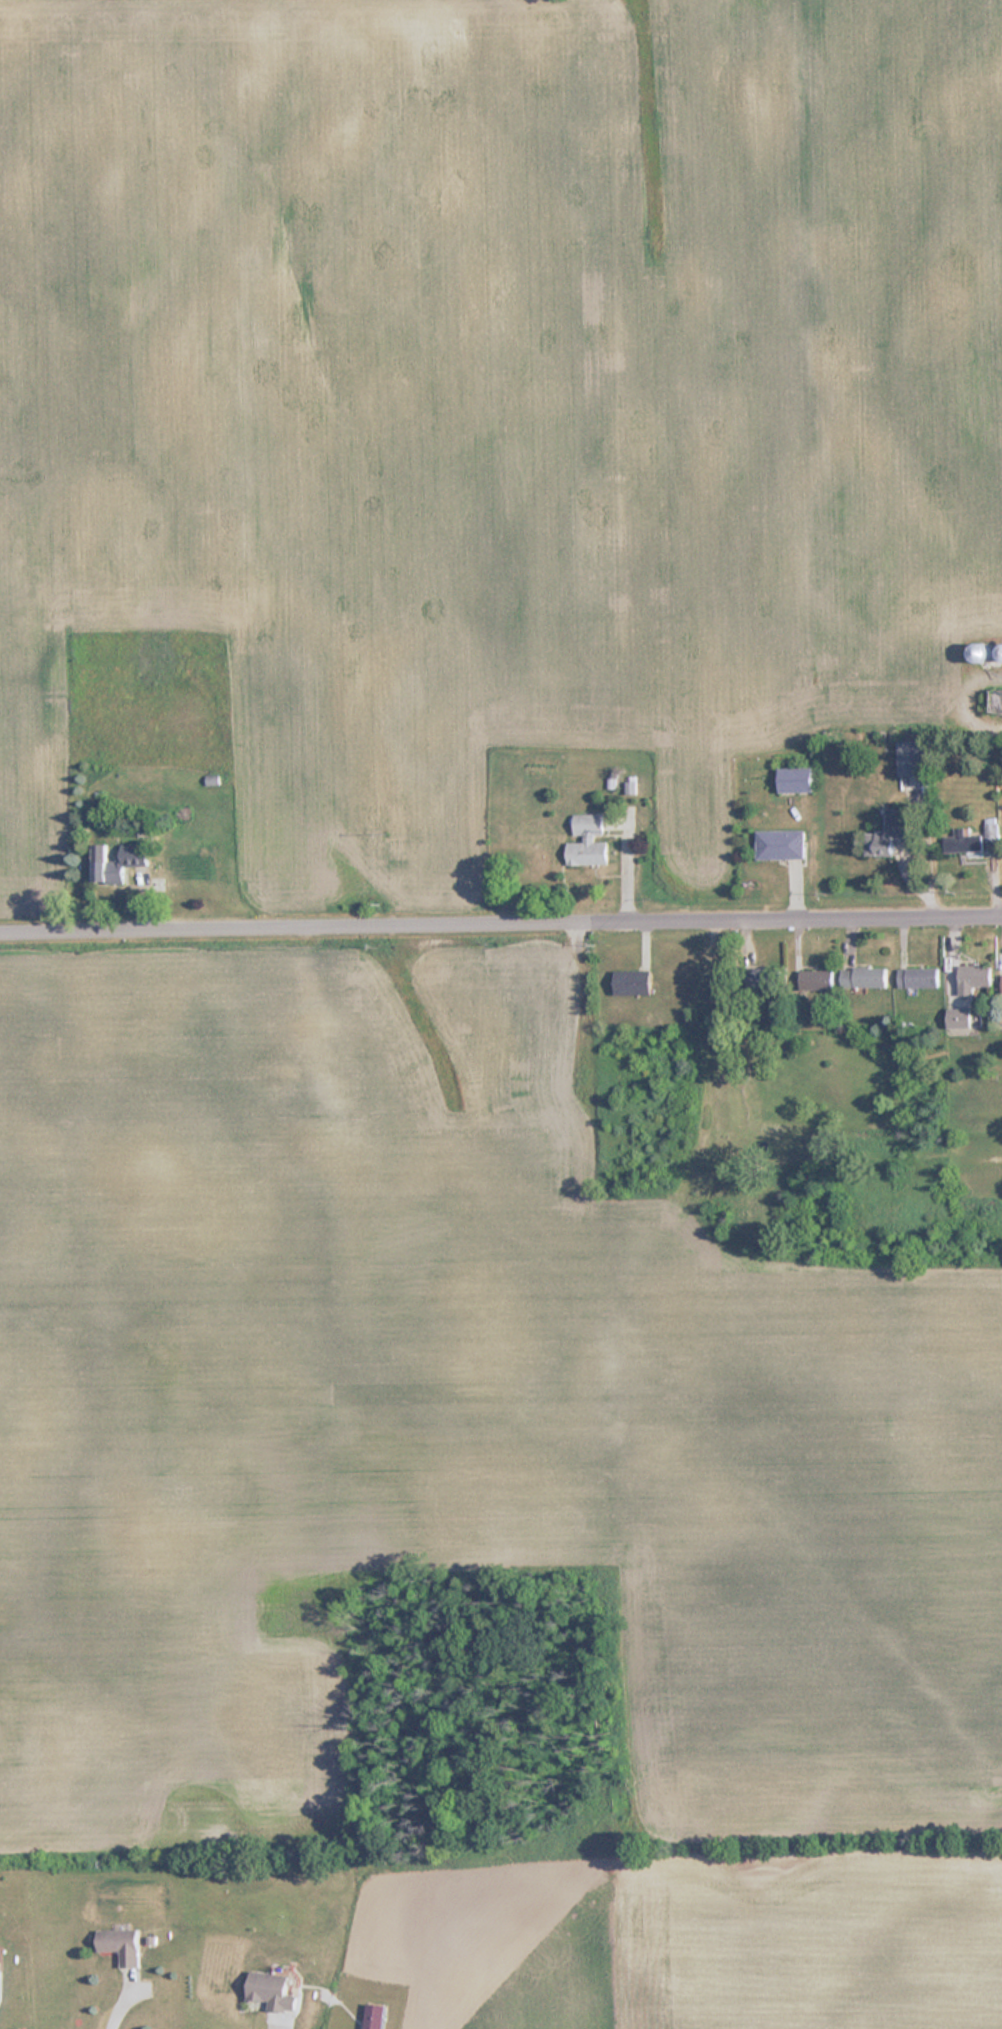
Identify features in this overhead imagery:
building: (977, 651)
building: (1000, 651)
building: (994, 701)
building: (913, 757)
building: (794, 779)
building: (889, 833)
building: (588, 840)
building: (962, 841)
building: (779, 844)
building: (137, 850)
building: (106, 866)
building: (156, 885)
road: (501, 927)
building: (863, 977)
building: (917, 977)
building: (761, 978)
building: (972, 978)
building: (816, 979)
building: (633, 982)
building: (958, 1017)
building: (121, 1944)
building: (271, 1991)
road: (114, 2004)

